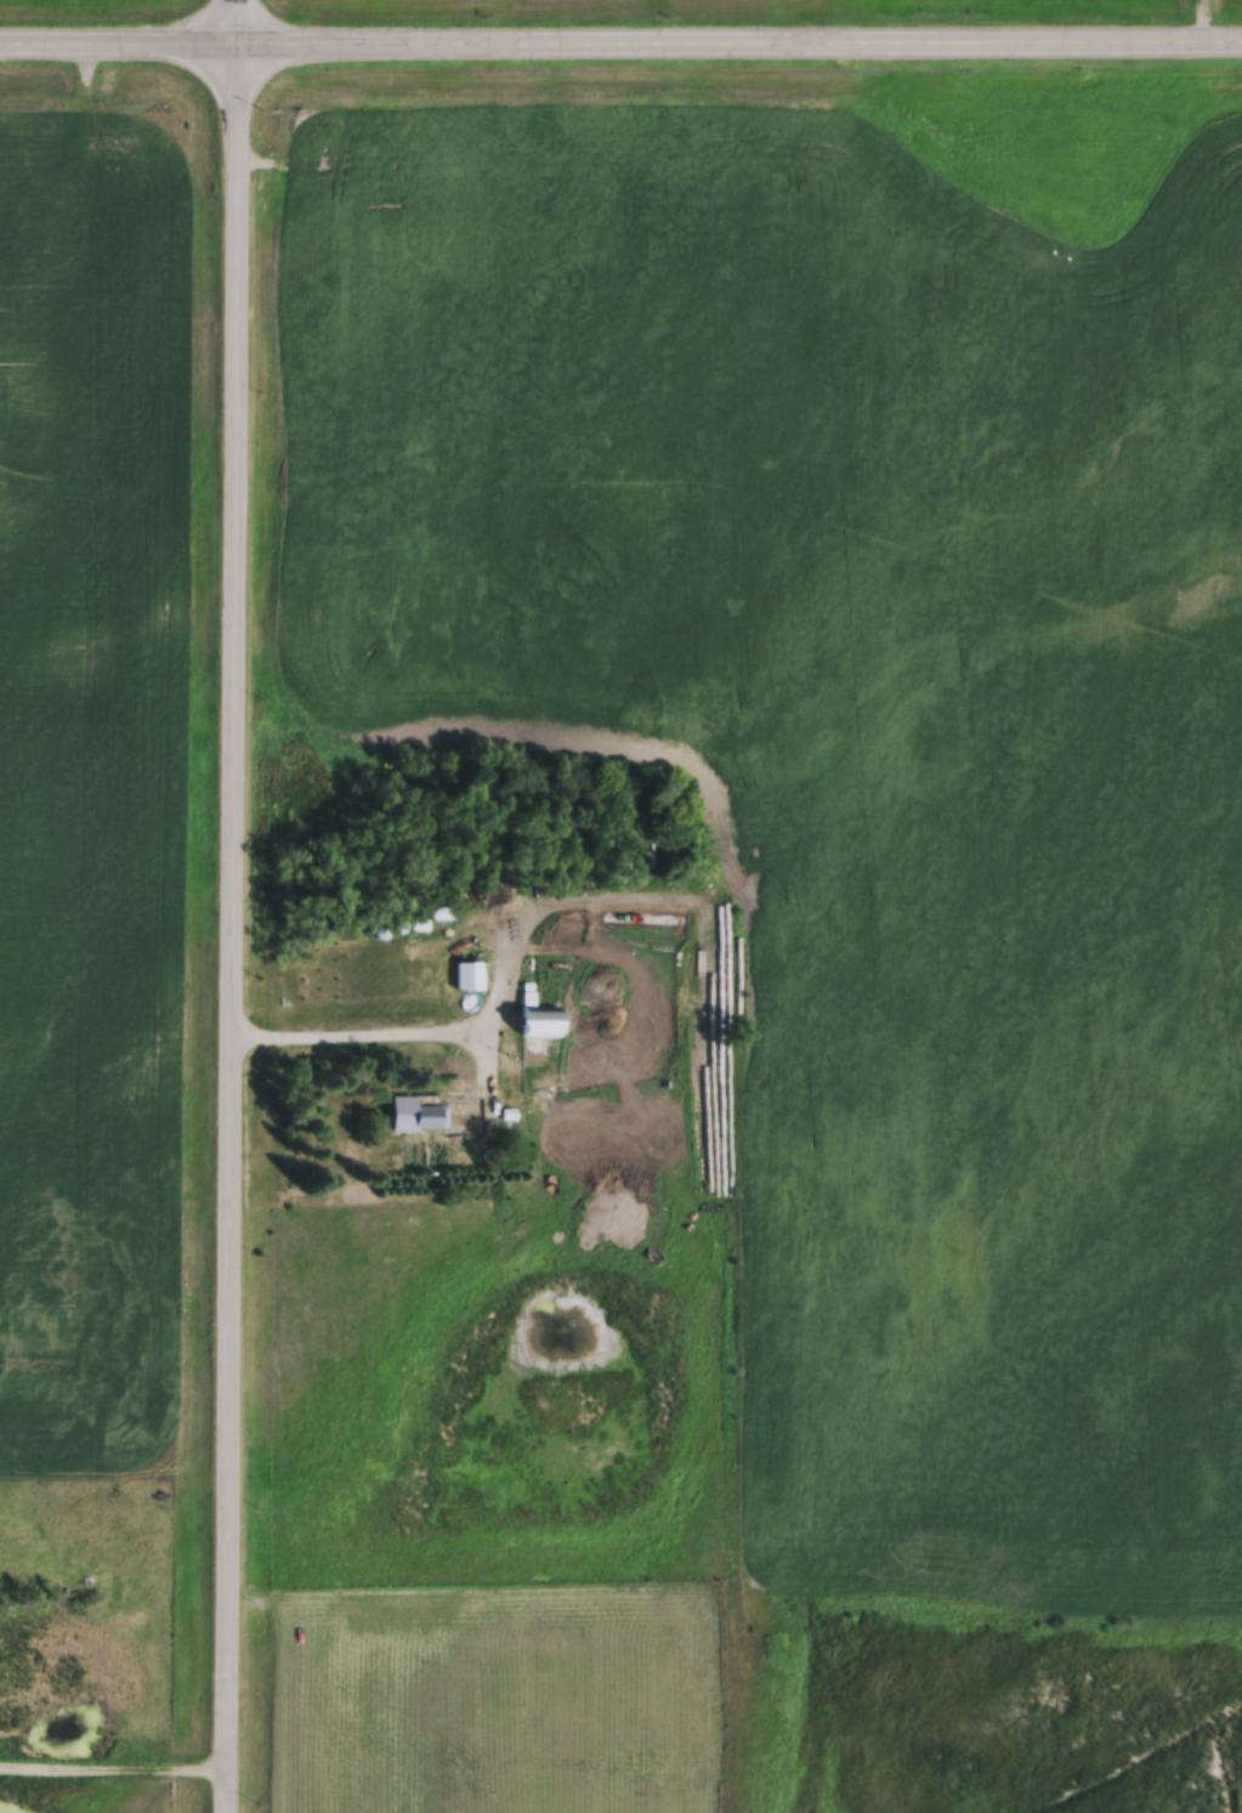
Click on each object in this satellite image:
road: (118, 36)
road: (738, 38)
road: (233, 906)
building: (466, 980)
building: (539, 1021)
road: (385, 1027)
building: (431, 1120)
road: (114, 1762)
river: (1168, 1769)

